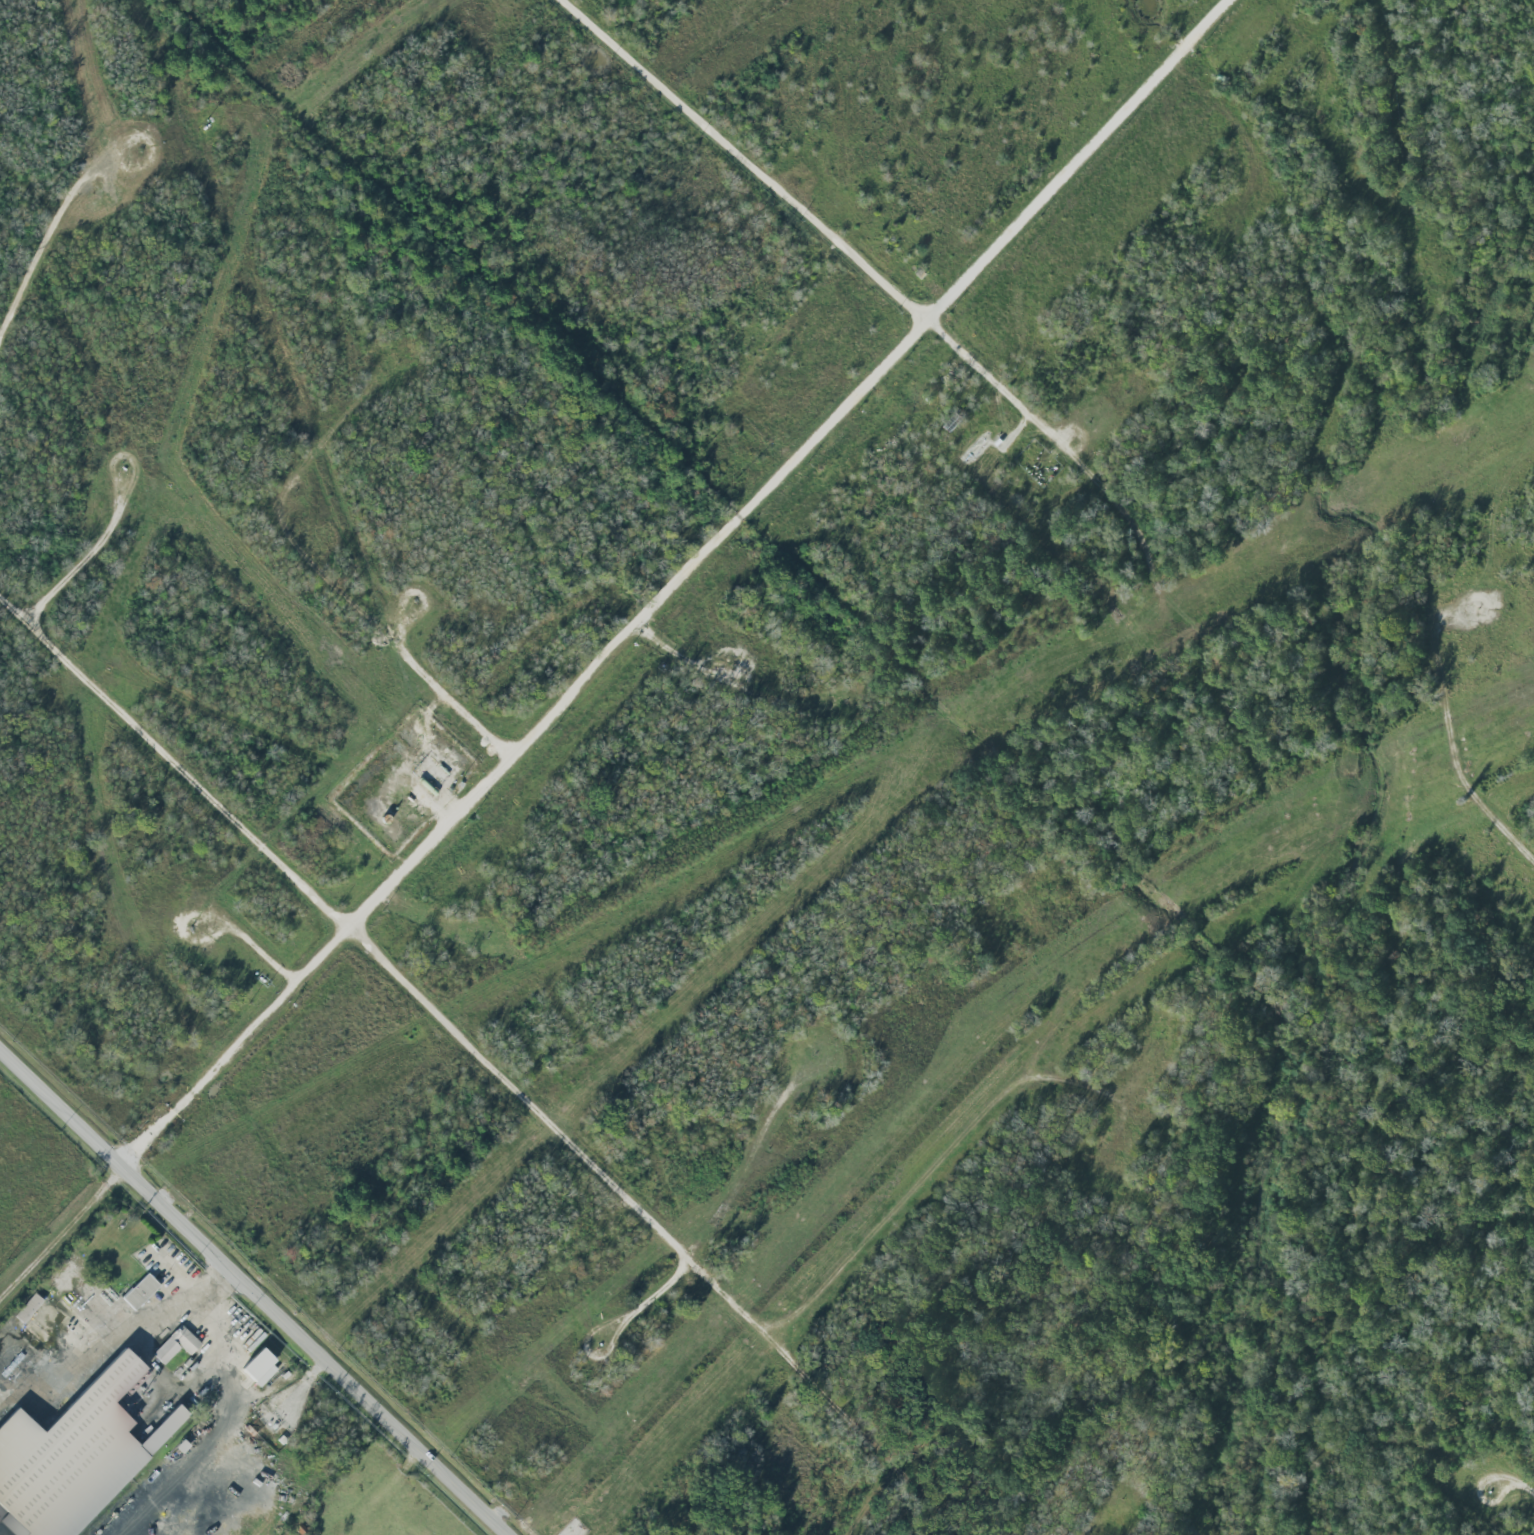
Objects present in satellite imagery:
road: (44, 247)
road: (900, 286)
road: (82, 559)
road: (325, 576)
road: (32, 615)
road: (623, 655)
road: (745, 685)
road: (1523, 833)
road: (437, 917)
road: (245, 938)
road: (555, 1130)
road: (728, 1201)
road: (215, 1285)
road: (257, 1288)
building: (140, 1292)
building: (28, 1308)
building: (176, 1345)
road: (92, 1355)
building: (259, 1368)
road: (823, 1387)
road: (219, 1436)
building: (69, 1458)
road: (1525, 1489)
road: (1477, 1492)
park: (25, 1512)

